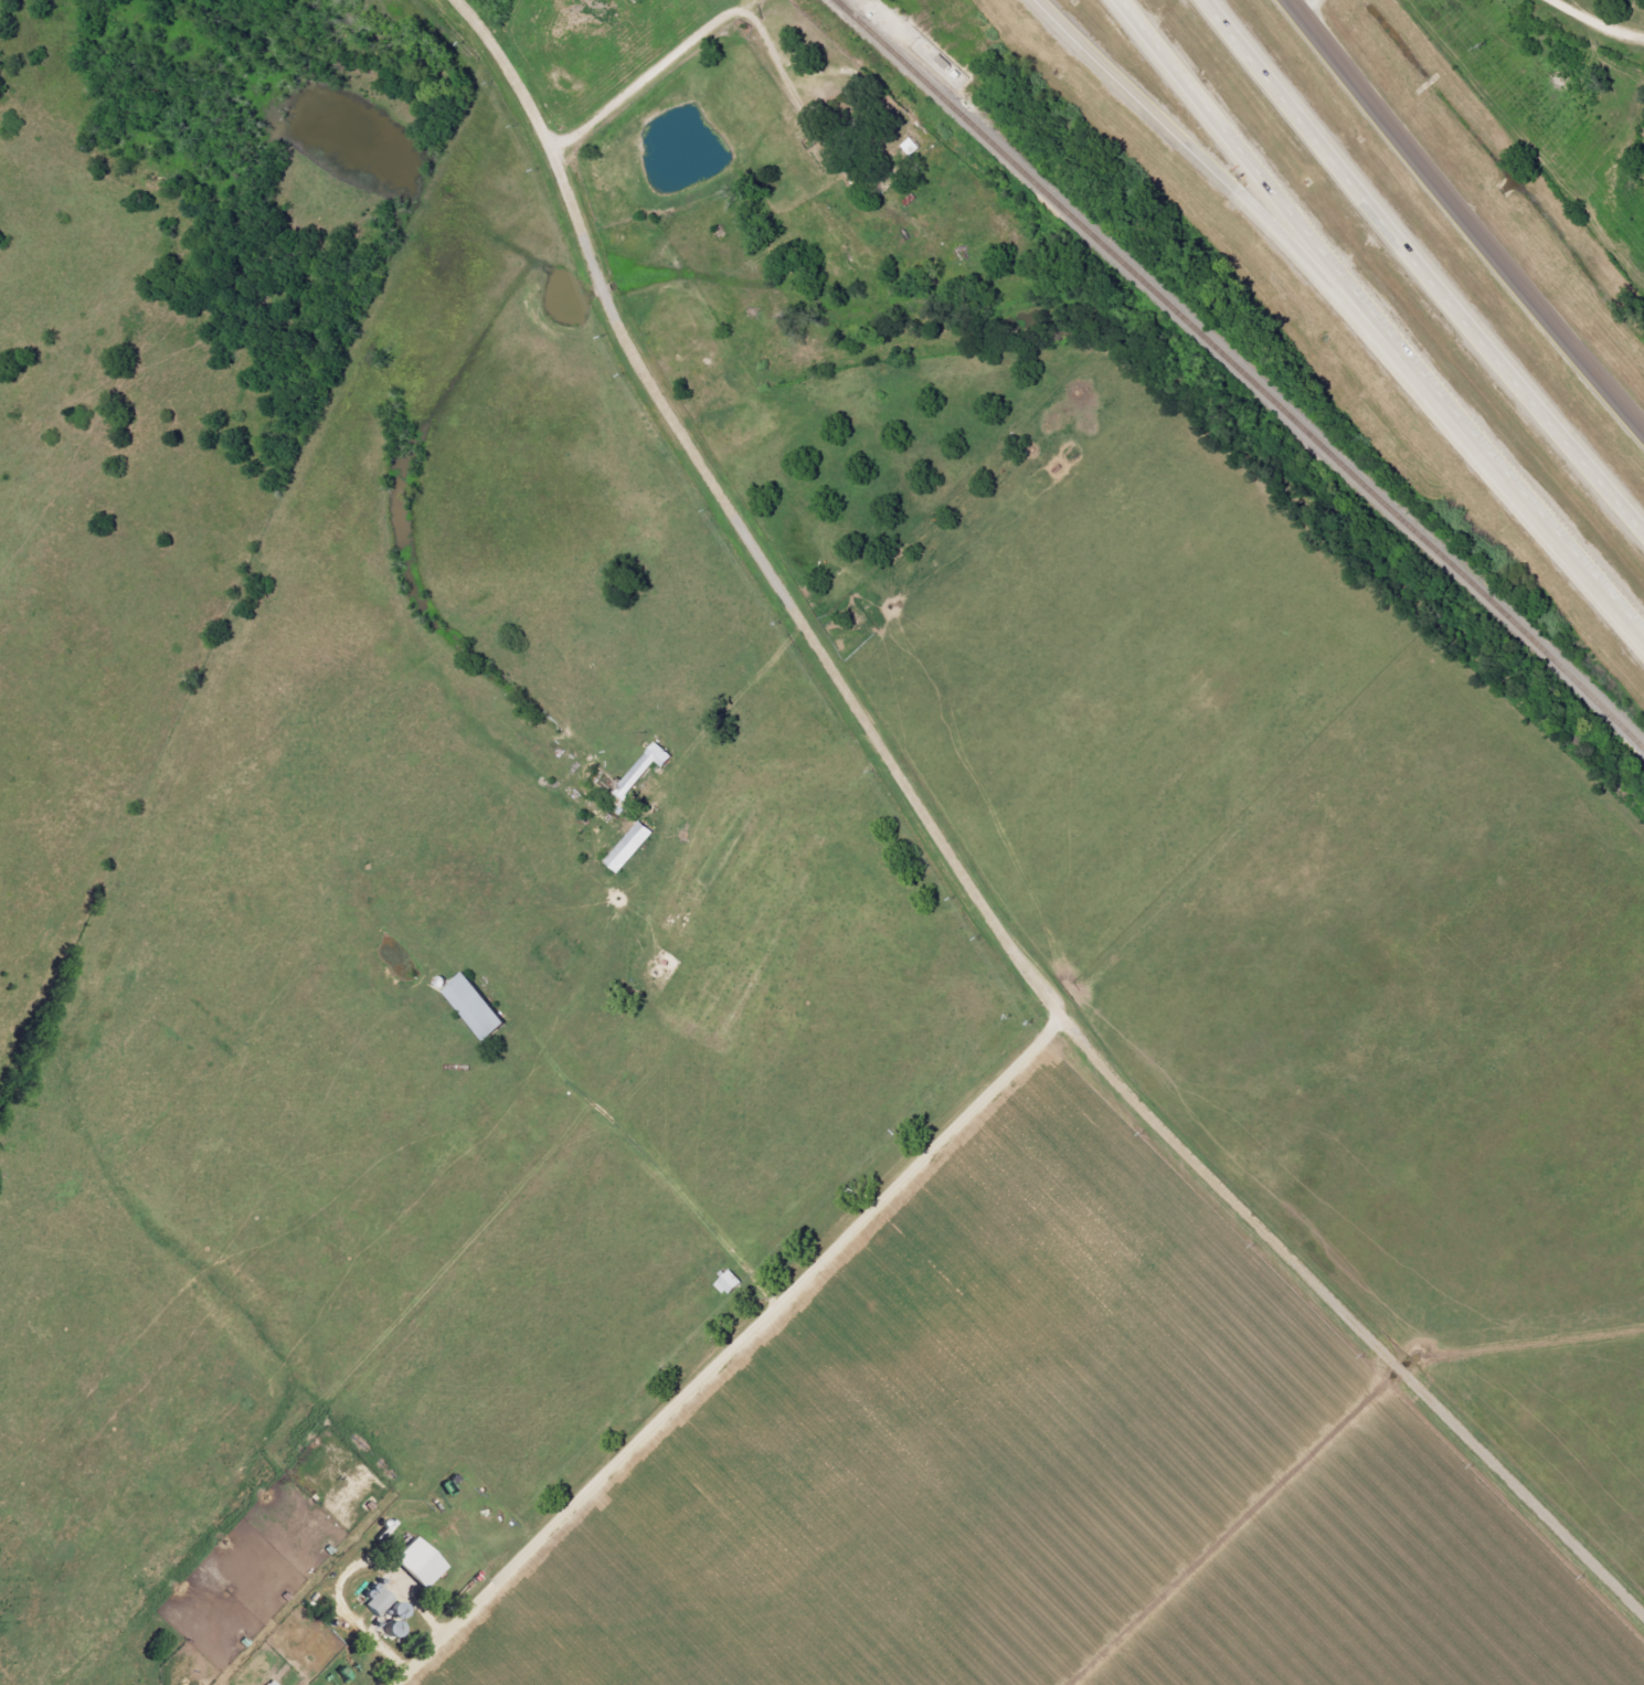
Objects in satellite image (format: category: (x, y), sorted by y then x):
road: (1599, 20)
power tower: (1485, 42)
road: (775, 52)
road: (650, 73)
road: (1209, 165)
road: (1466, 213)
road: (1423, 278)
road: (1373, 322)
railway: (1602, 327)
railway: (1242, 370)
building: (646, 770)
building: (630, 848)
road: (961, 871)
building: (477, 1008)
building: (731, 1284)
road: (731, 1354)
building: (420, 1565)
building: (380, 1603)
building: (272, 1683)

